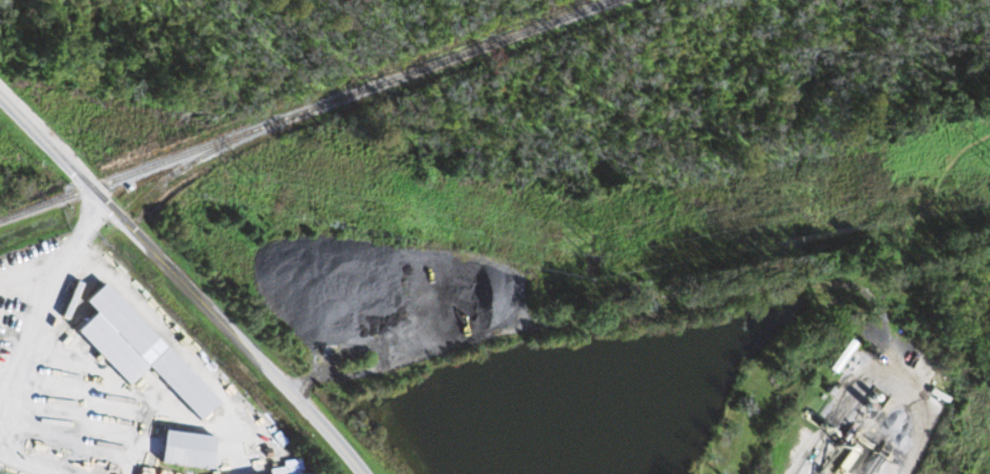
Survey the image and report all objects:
railway: (301, 107)
power tower: (255, 178)
railway: (127, 213)
road: (75, 238)
power tower: (590, 248)
road: (187, 280)
road: (24, 288)
road: (23, 337)
building: (872, 406)
building: (183, 450)
building: (287, 468)

